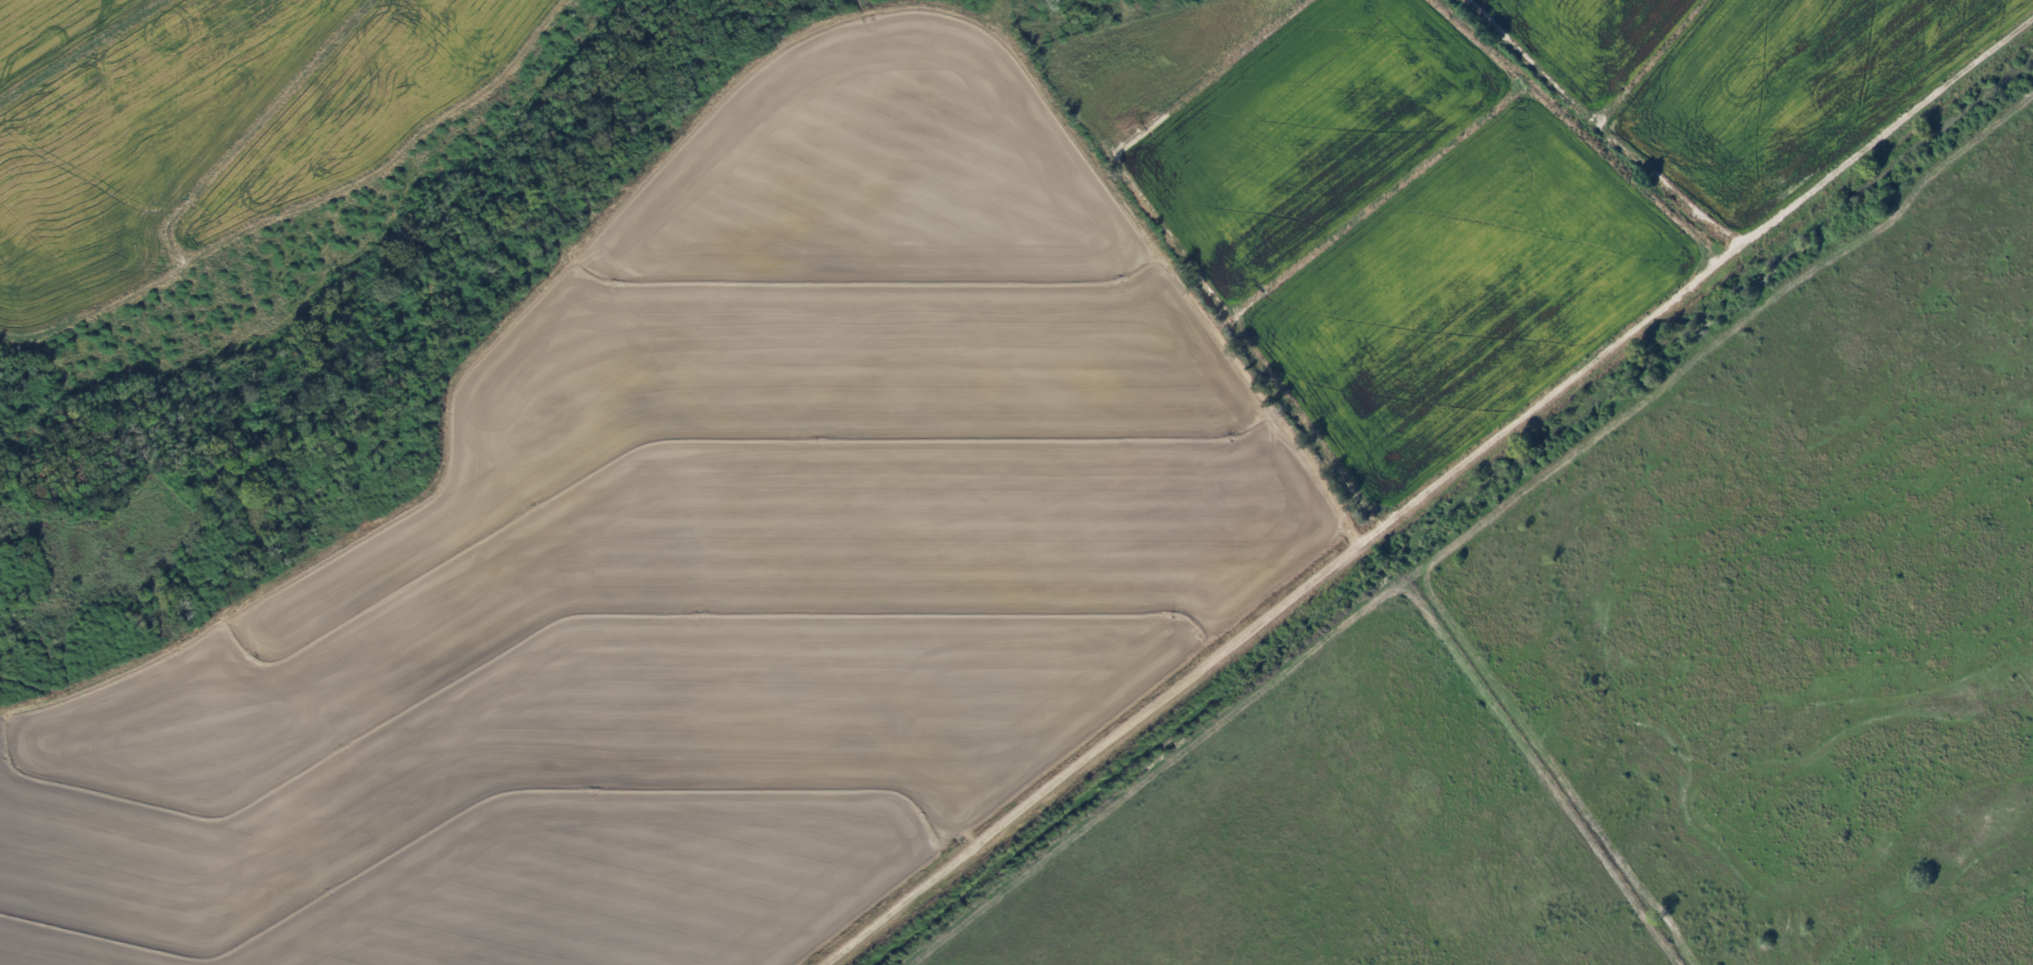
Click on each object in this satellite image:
road: (1404, 481)
road: (693, 711)

